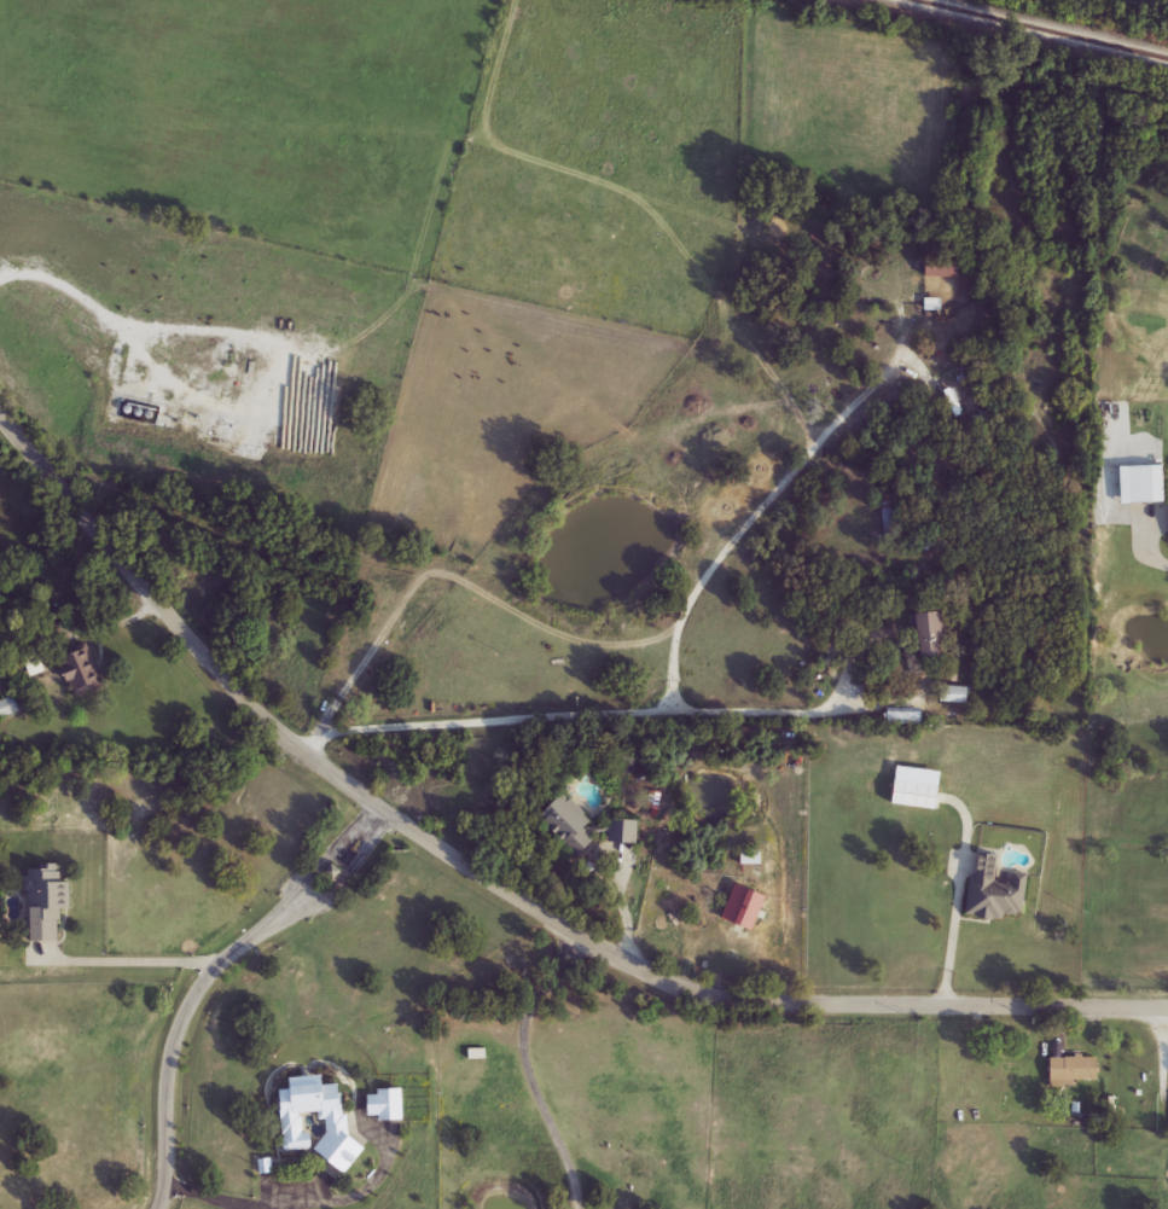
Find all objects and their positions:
railway: (1047, 27)
building: (945, 273)
road: (95, 319)
building: (1150, 484)
building: (891, 519)
road: (1155, 552)
road: (606, 633)
building: (928, 635)
road: (675, 667)
building: (82, 672)
building: (958, 696)
building: (8, 708)
road: (609, 714)
building: (905, 719)
building: (917, 789)
building: (565, 831)
building: (624, 831)
building: (751, 858)
road: (499, 882)
building: (996, 891)
building: (43, 906)
road: (952, 932)
road: (138, 953)
road: (205, 977)
road: (523, 1063)
building: (1073, 1071)
building: (388, 1104)
building: (338, 1123)
road: (238, 1203)

